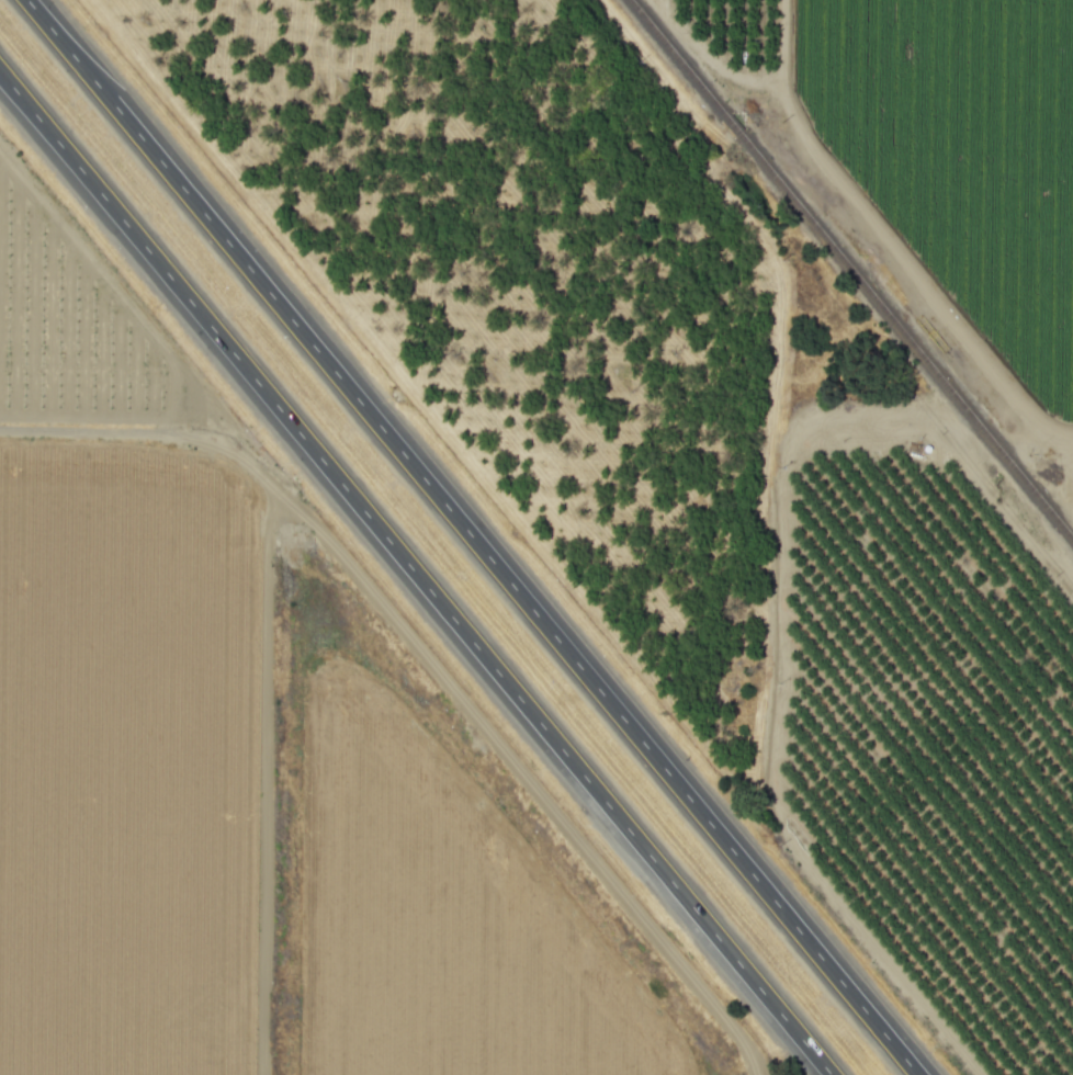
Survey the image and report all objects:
railway: (851, 270)
road: (471, 537)
road: (415, 574)

